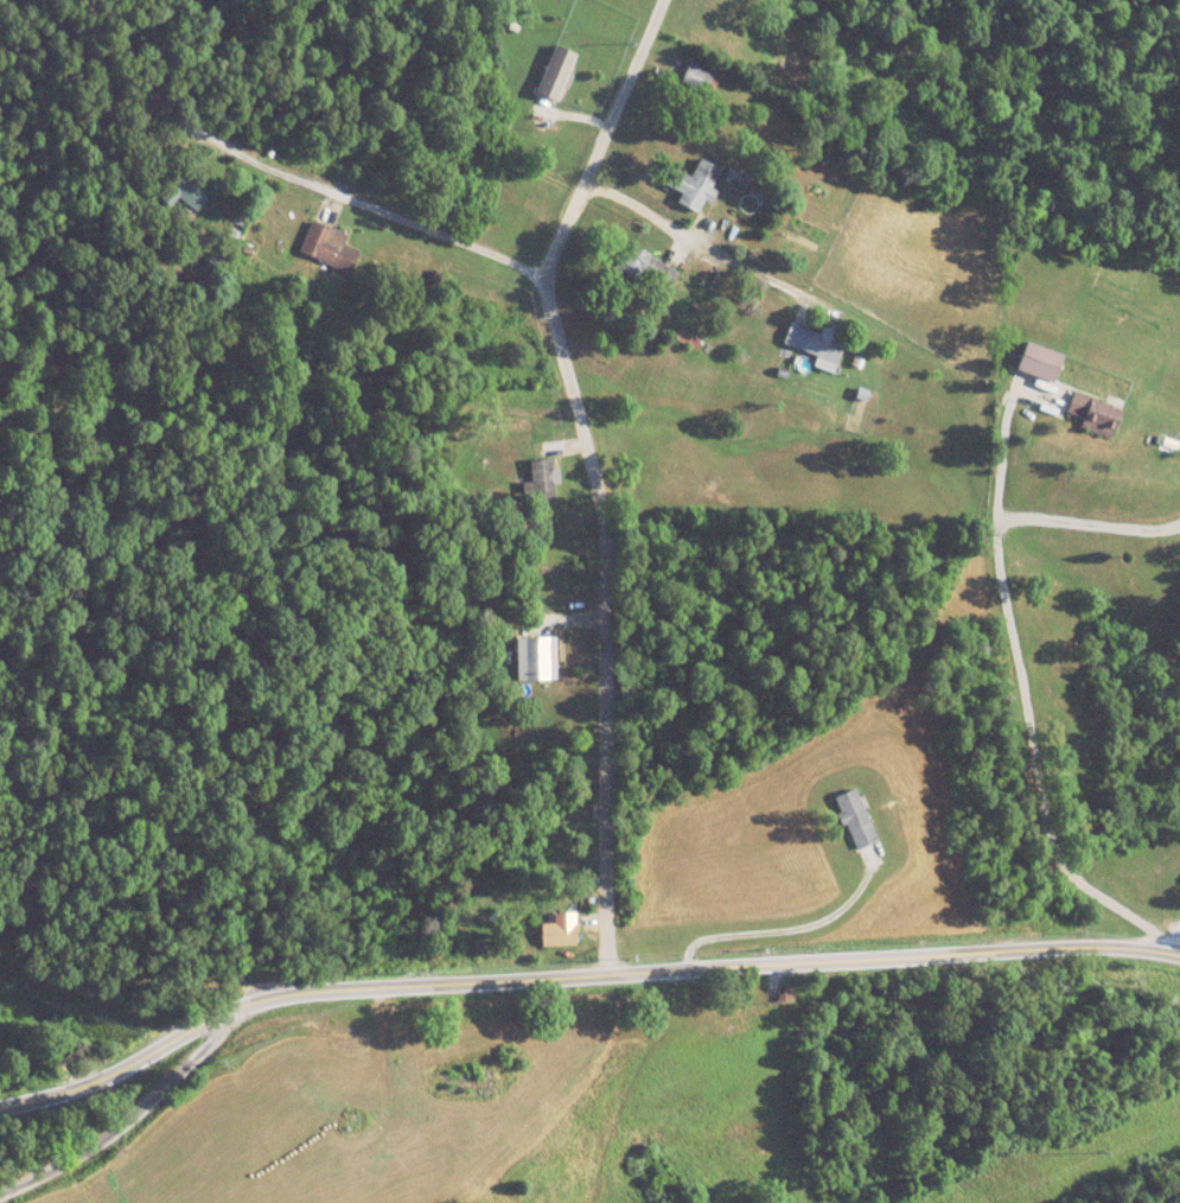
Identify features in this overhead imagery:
building: (556, 74)
building: (695, 185)
road: (374, 214)
building: (330, 247)
building: (217, 265)
building: (657, 269)
building: (824, 349)
building: (1042, 362)
building: (1096, 415)
road: (597, 495)
building: (535, 660)
road: (1029, 721)
building: (857, 820)
building: (559, 930)
road: (578, 975)
road: (125, 1119)

